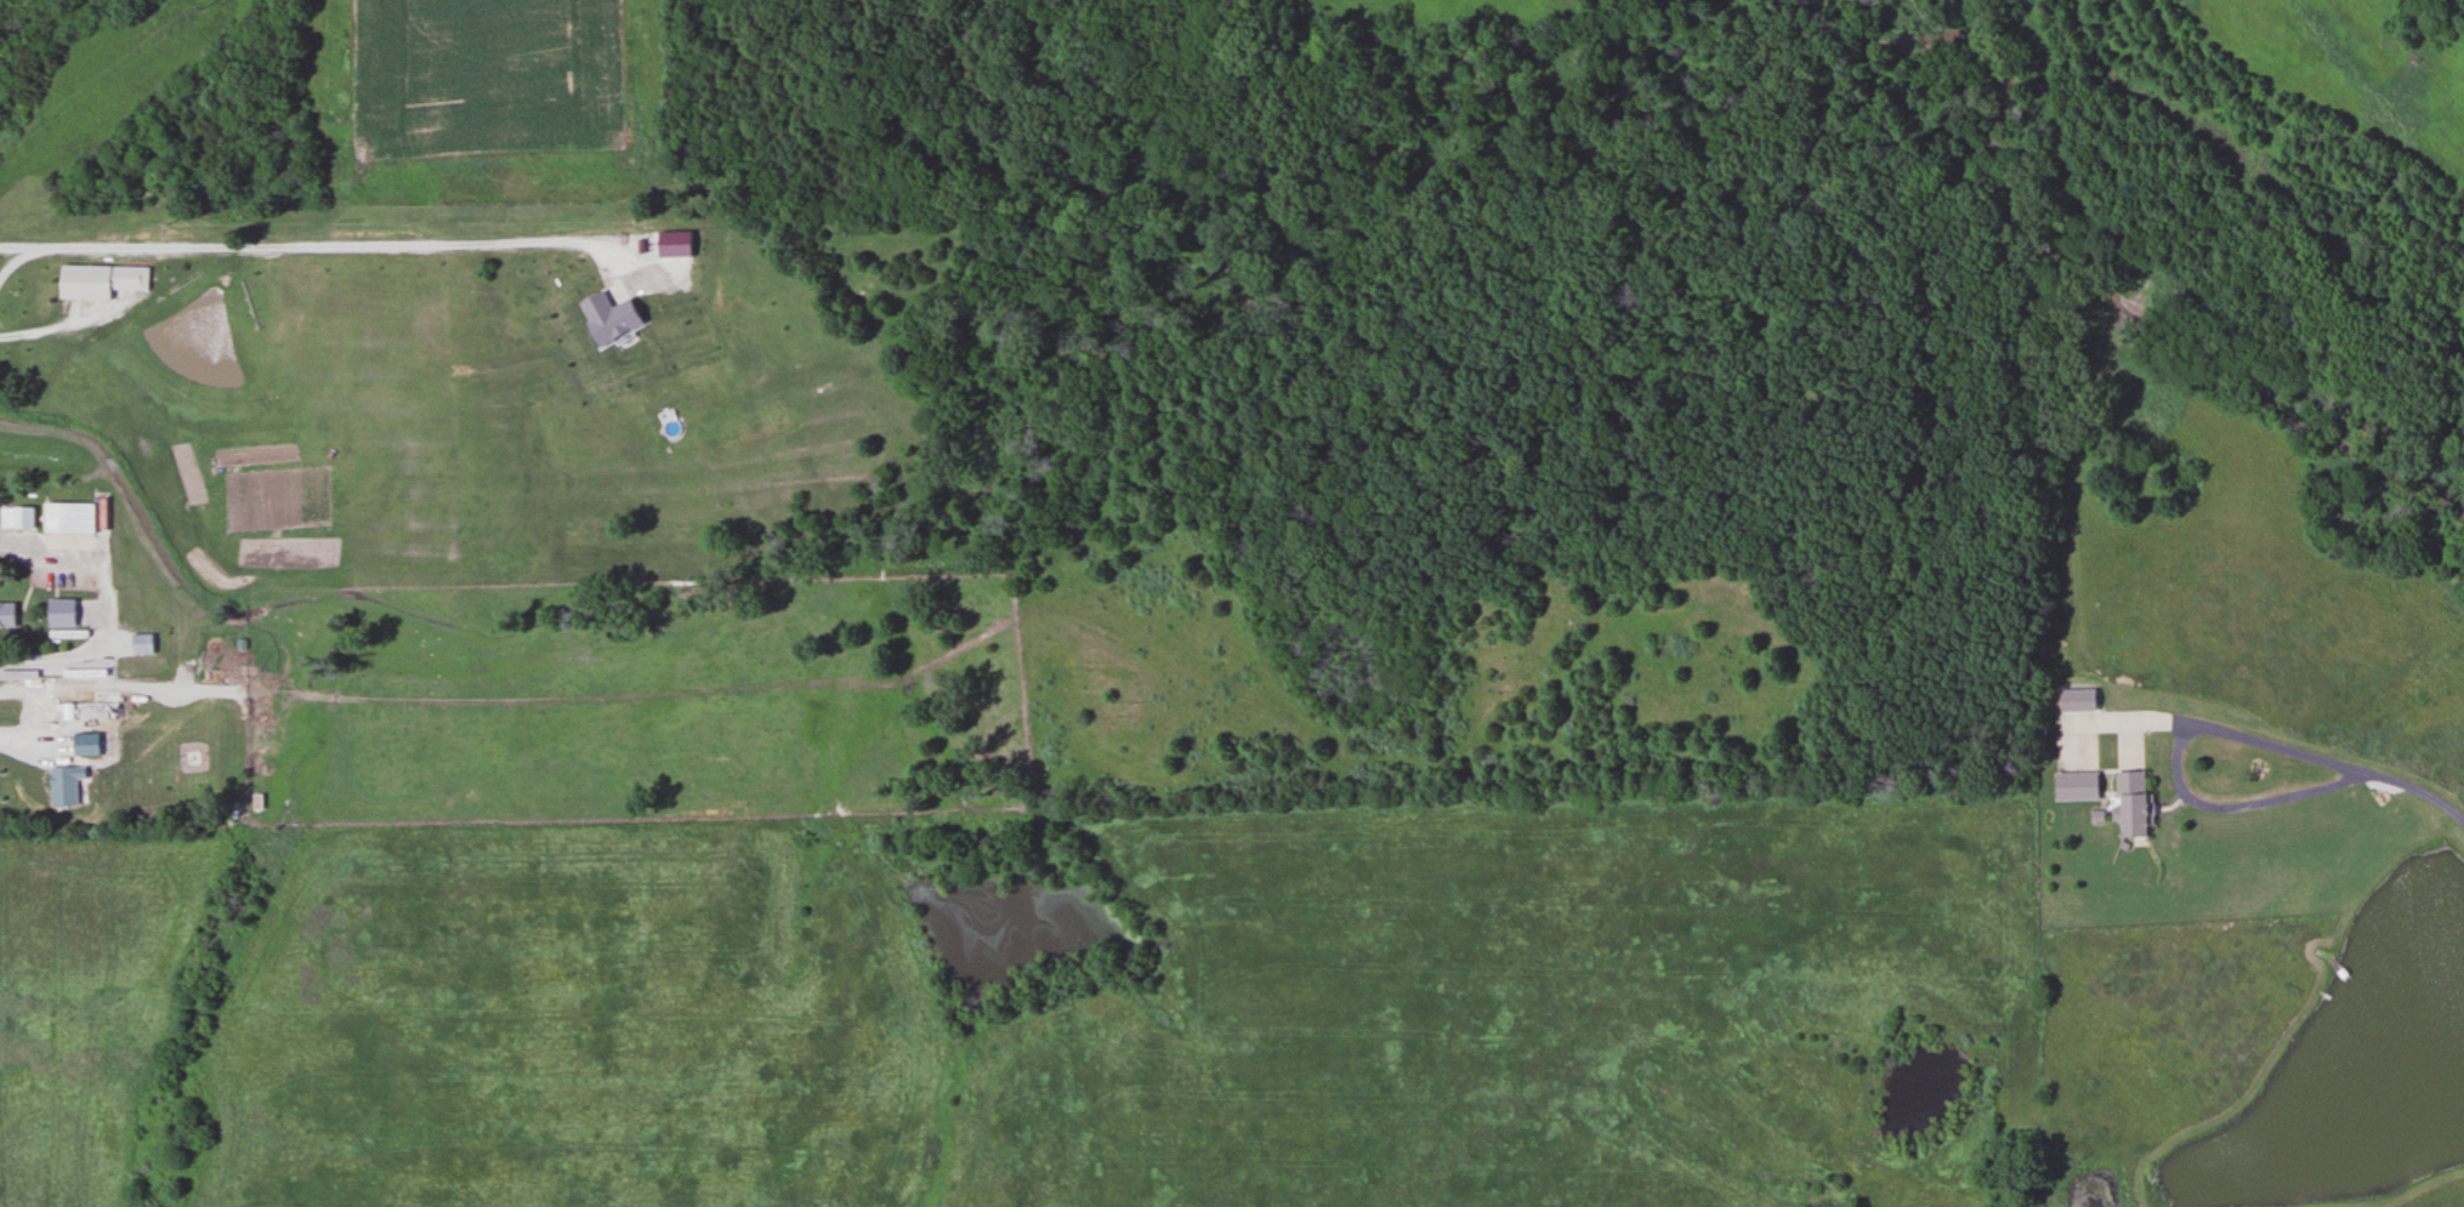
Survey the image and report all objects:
building: (15, 516)
building: (67, 517)
building: (58, 613)
building: (5, 614)
road: (2204, 721)
building: (80, 744)
building: (61, 786)
building: (2072, 786)
road: (2418, 786)
building: (2127, 803)

